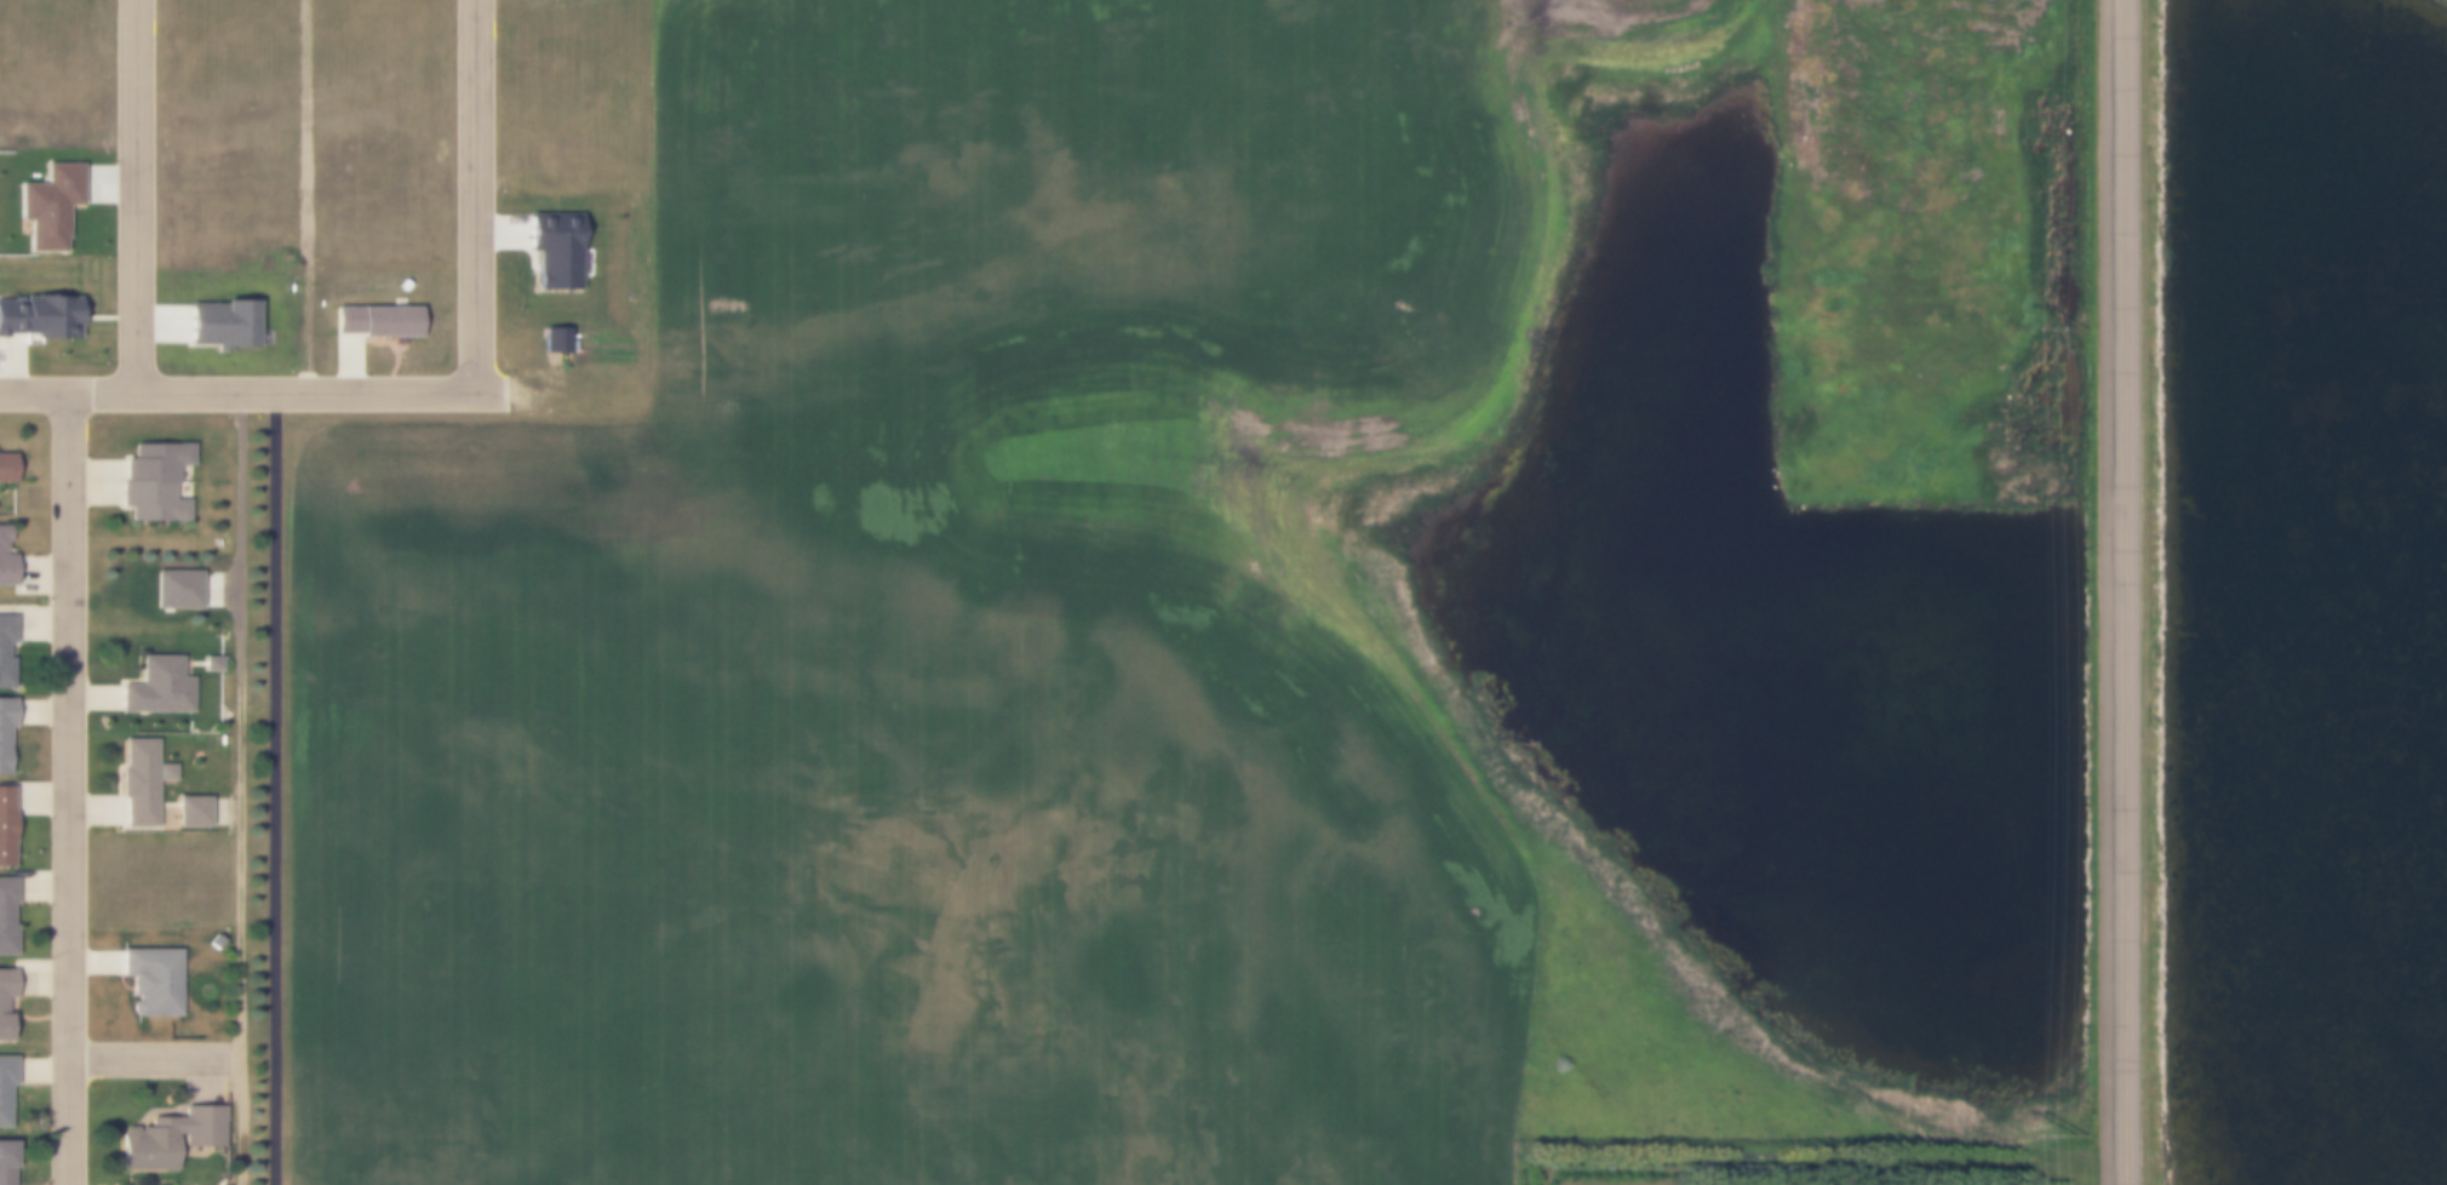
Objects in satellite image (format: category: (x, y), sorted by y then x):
road: (471, 196)
road: (133, 198)
building: (38, 316)
building: (376, 321)
road: (251, 395)
building: (5, 466)
building: (155, 483)
building: (4, 532)
building: (5, 571)
road: (2102, 591)
road: (2125, 591)
building: (2, 651)
building: (210, 664)
building: (155, 687)
building: (5, 737)
building: (141, 785)
road: (68, 789)
road: (271, 789)
road: (236, 790)
building: (191, 813)
building: (5, 825)
building: (6, 918)
building: (151, 981)
building: (204, 992)
building: (5, 996)
road: (154, 1058)
building: (5, 1088)
building: (168, 1137)
building: (4, 1162)

